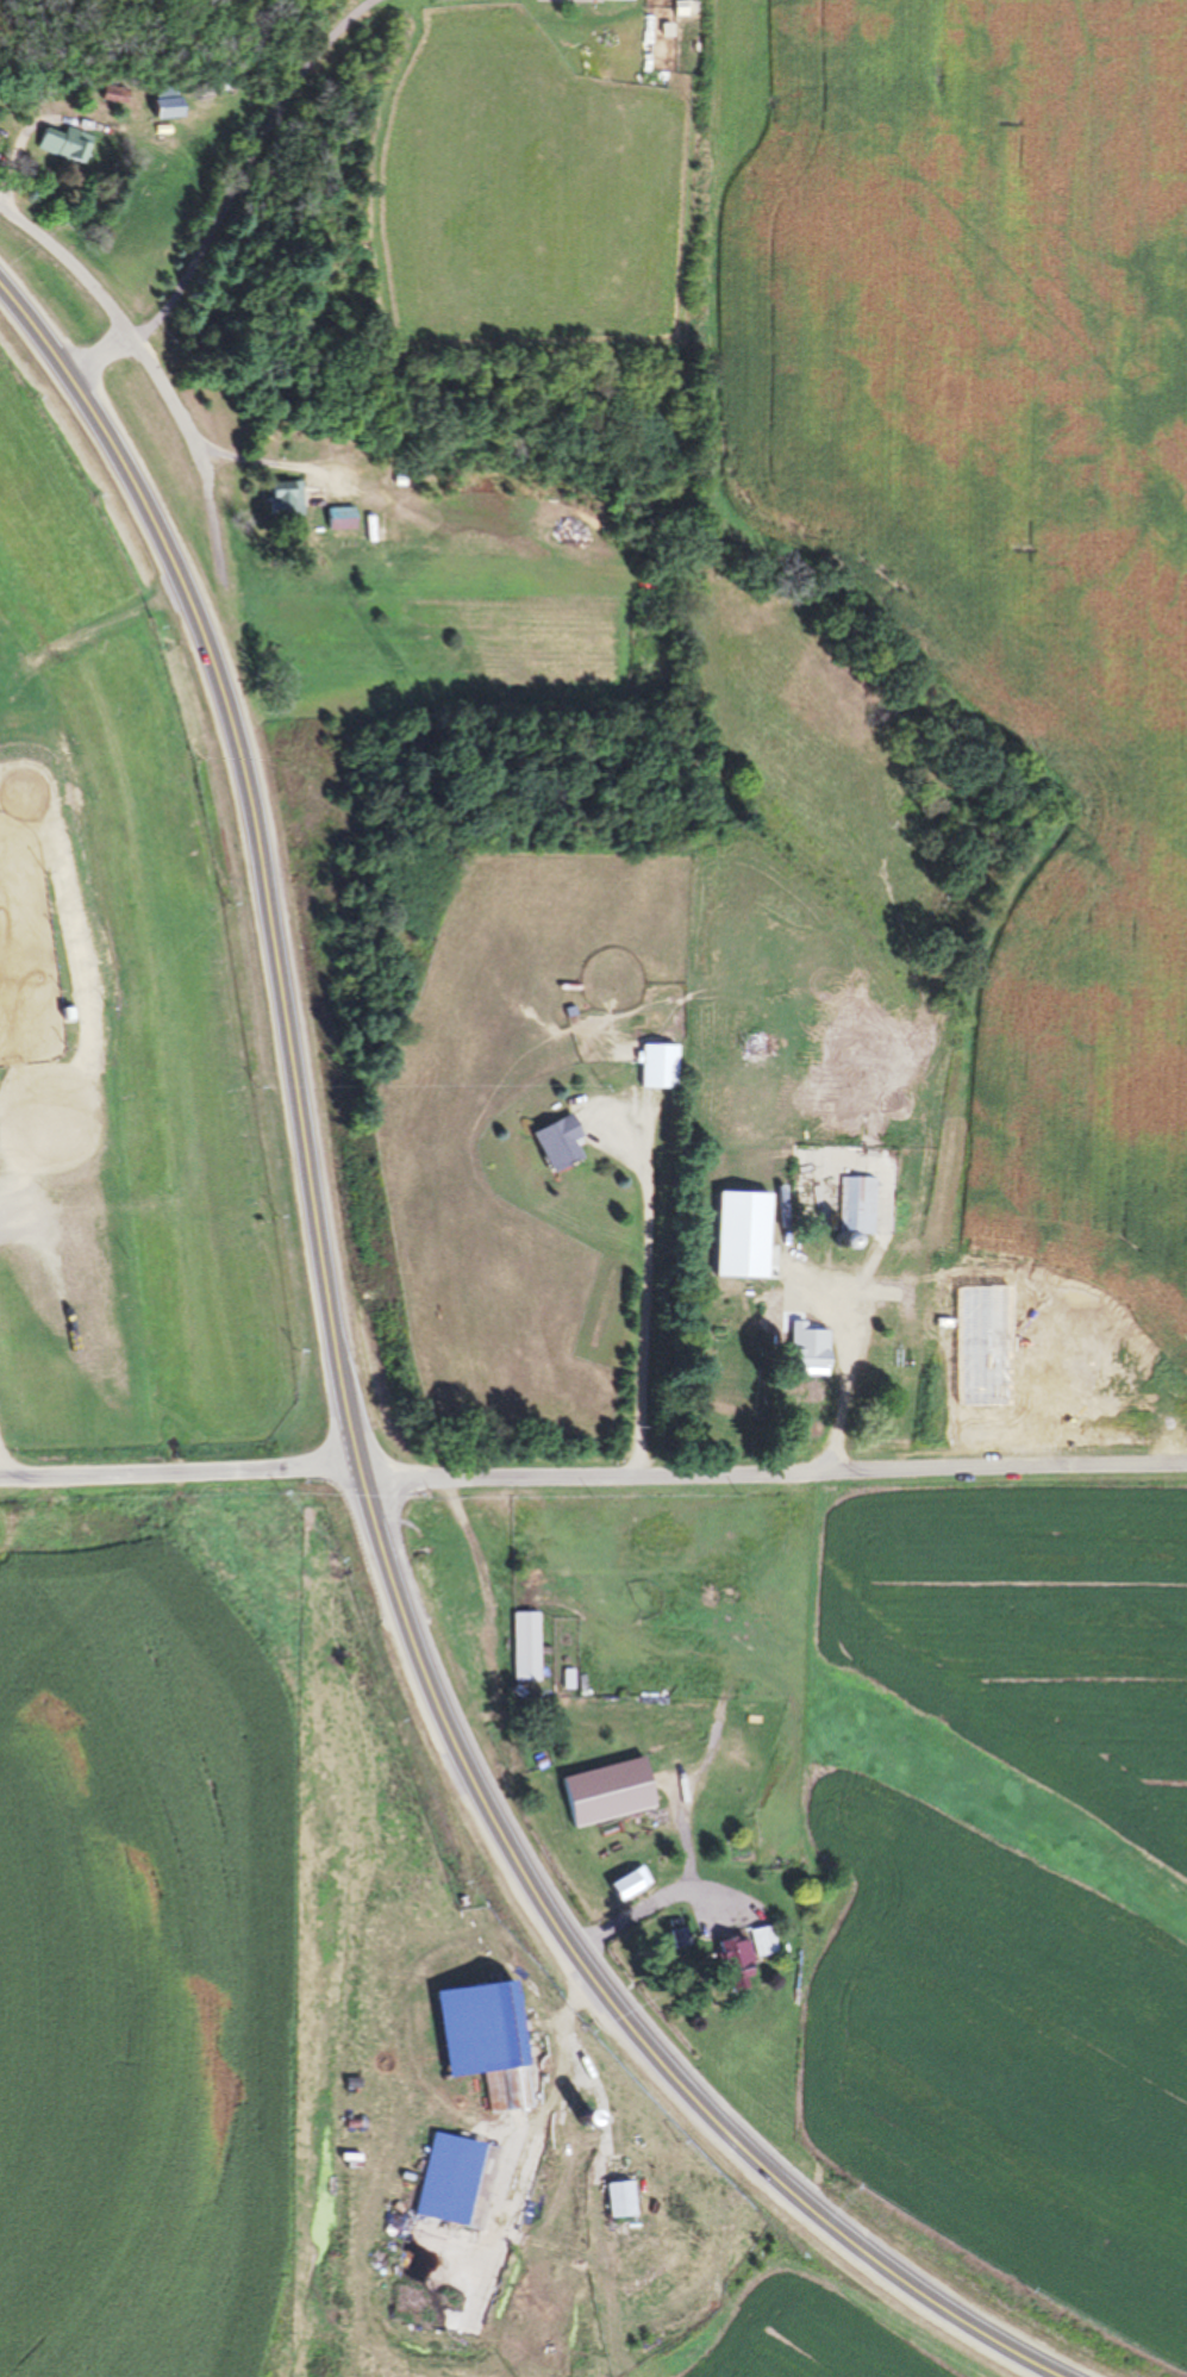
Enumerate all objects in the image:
building: (112, 94)
building: (165, 107)
building: (67, 144)
road: (249, 164)
road: (99, 355)
road: (154, 369)
building: (286, 497)
building: (343, 513)
building: (657, 1066)
building: (558, 1143)
building: (857, 1204)
building: (767, 1269)
building: (810, 1352)
road: (352, 1434)
road: (776, 1472)
road: (179, 1473)
building: (526, 1646)
building: (525, 1755)
building: (604, 1790)
building: (627, 1882)
road: (652, 1905)
building: (762, 1940)
building: (729, 1958)
building: (506, 2047)
building: (521, 2165)
building: (437, 2175)
building: (620, 2197)

